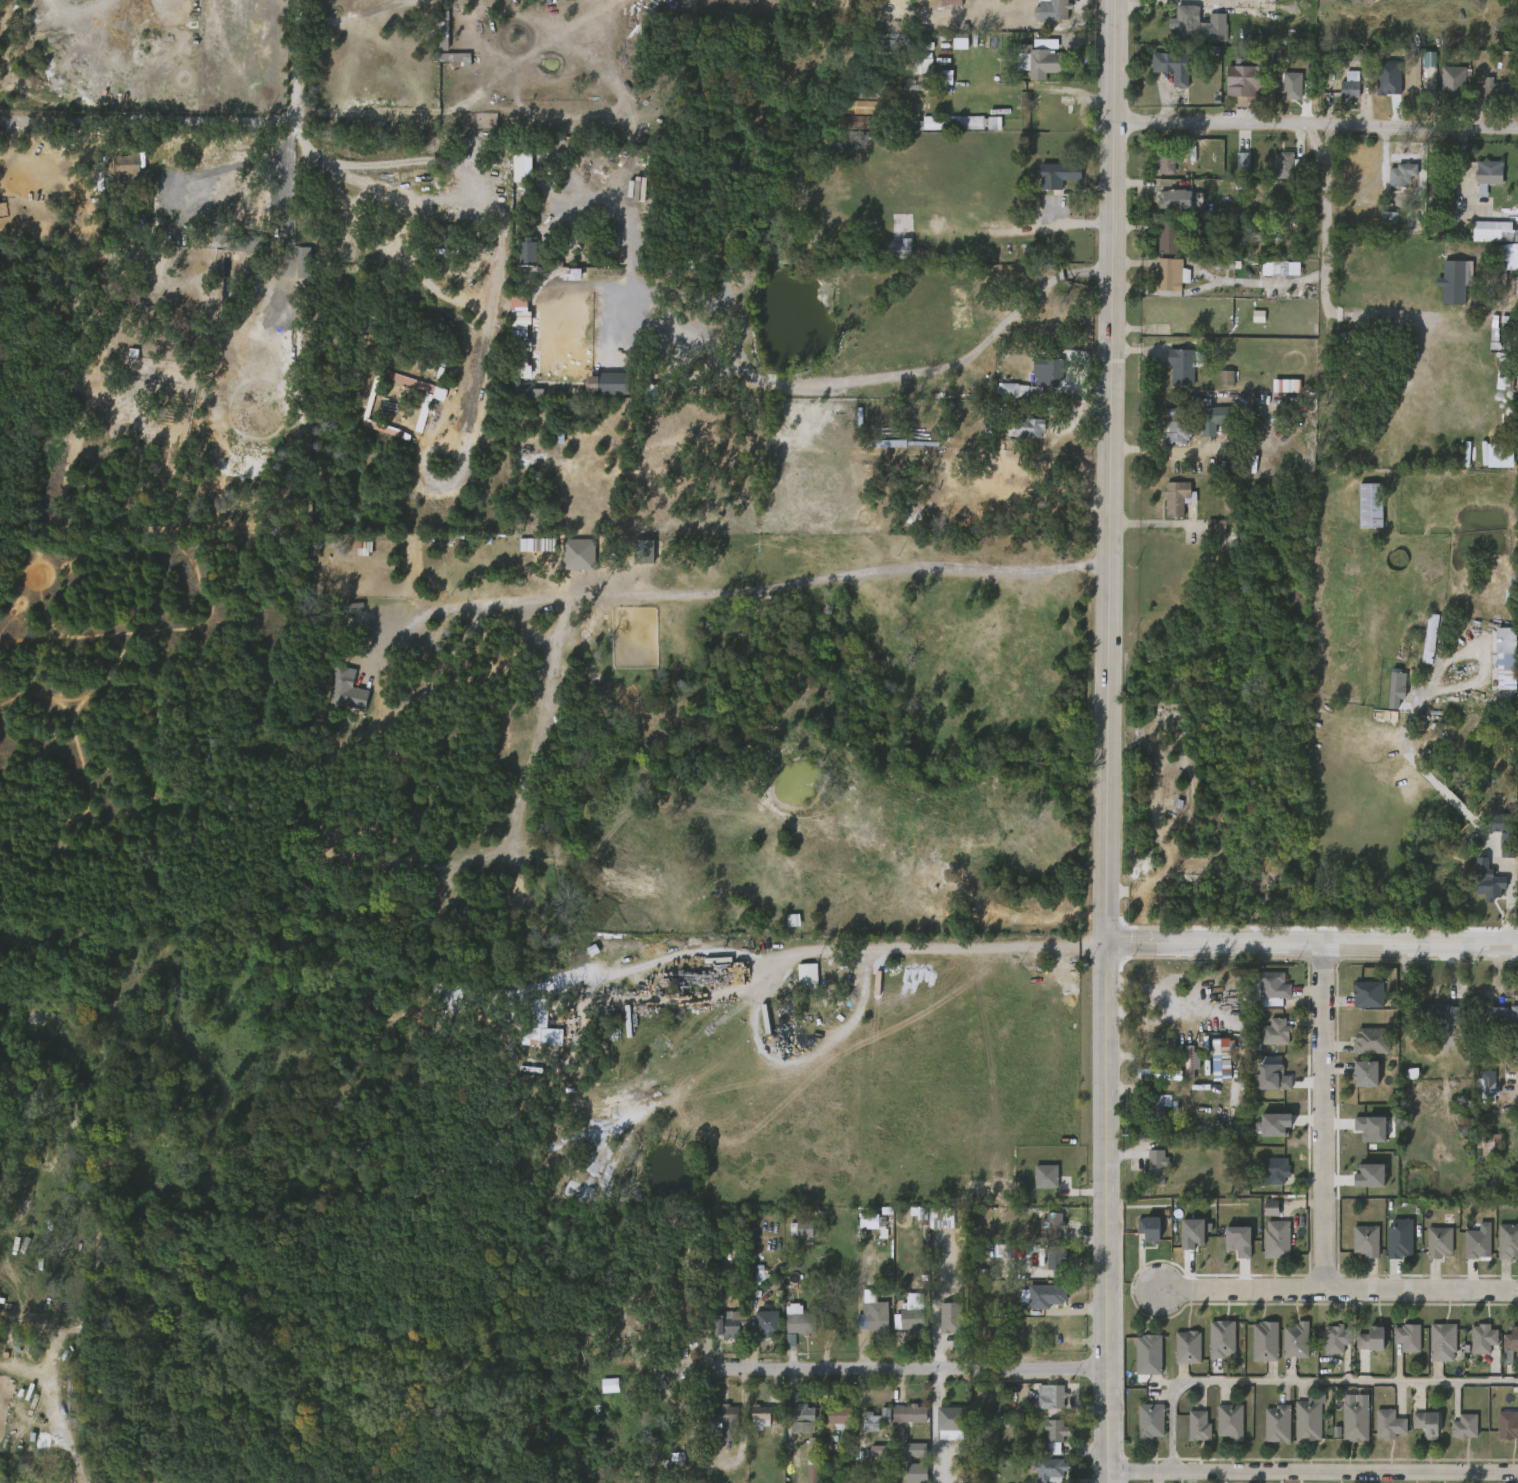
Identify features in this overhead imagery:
building: (949, 2)
road: (1226, 3)
road: (1139, 4)
building: (1054, 10)
road: (134, 11)
road: (352, 15)
building: (1185, 22)
building: (1217, 26)
building: (457, 58)
building: (1358, 59)
building: (1035, 61)
road: (300, 65)
building: (1170, 66)
building: (1418, 69)
building: (912, 74)
building: (1162, 75)
building: (1245, 82)
building: (1350, 84)
building: (1497, 88)
building: (1293, 89)
building: (866, 91)
building: (1340, 92)
building: (1281, 98)
building: (1485, 98)
building: (1517, 99)
building: (861, 107)
building: (856, 122)
building: (955, 122)
road: (93, 128)
building: (846, 131)
building: (948, 131)
road: (1315, 131)
road: (378, 134)
building: (1165, 163)
building: (1285, 163)
building: (128, 165)
building: (1232, 170)
building: (1155, 171)
building: (1063, 172)
building: (117, 173)
building: (1275, 174)
building: (1401, 174)
building: (1486, 177)
building: (1048, 183)
building: (1391, 183)
road: (1460, 186)
road: (373, 195)
building: (1170, 199)
building: (1164, 208)
road: (1326, 221)
building: (1378, 227)
building: (1168, 236)
building: (1483, 240)
building: (1157, 245)
building: (898, 249)
building: (890, 257)
building: (518, 261)
building: (1274, 268)
building: (1170, 274)
building: (1270, 277)
building: (1442, 291)
building: (1485, 298)
building: (1247, 324)
building: (1180, 365)
building: (1049, 371)
building: (1171, 376)
road: (789, 385)
building: (1216, 386)
building: (1025, 388)
building: (1012, 390)
building: (603, 391)
building: (1278, 394)
building: (1206, 421)
building: (1174, 426)
building: (1029, 427)
building: (1022, 436)
building: (1167, 441)
road: (1110, 471)
building: (1179, 498)
building: (1368, 505)
building: (1205, 535)
building: (522, 552)
building: (568, 562)
road: (746, 593)
building: (1429, 637)
building: (1419, 646)
building: (332, 694)
building: (1384, 697)
building: (1508, 836)
building: (1491, 842)
building: (1486, 880)
road: (1511, 887)
building: (1476, 889)
road: (1188, 943)
road: (1394, 944)
road: (759, 974)
building: (1221, 976)
building: (1270, 984)
building: (1264, 993)
building: (1357, 1002)
building: (1440, 1014)
building: (1502, 1015)
building: (1434, 1023)
building: (1273, 1032)
building: (532, 1033)
building: (1369, 1040)
building: (1215, 1059)
building: (1180, 1068)
building: (1362, 1074)
building: (1263, 1085)
building: (1477, 1092)
building: (1155, 1106)
road: (1322, 1116)
building: (1264, 1132)
building: (1360, 1136)
building: (1490, 1143)
building: (1155, 1167)
building: (1273, 1170)
building: (1147, 1172)
building: (1359, 1183)
building: (1035, 1184)
road: (1107, 1212)
building: (1260, 1215)
building: (1146, 1227)
building: (799, 1228)
building: (931, 1228)
building: (1053, 1228)
building: (872, 1229)
building: (791, 1236)
building: (1399, 1237)
building: (1275, 1239)
building: (1364, 1239)
building: (1507, 1239)
building: (1182, 1240)
building: (1438, 1241)
building: (1478, 1243)
building: (1228, 1248)
building: (1355, 1248)
building: (1429, 1249)
building: (1467, 1250)
building: (1053, 1257)
building: (1045, 1267)
road: (1342, 1289)
building: (1044, 1295)
building: (947, 1314)
building: (871, 1316)
building: (796, 1319)
building: (909, 1320)
building: (764, 1321)
building: (728, 1324)
building: (685, 1325)
building: (941, 1325)
building: (788, 1328)
building: (899, 1328)
building: (756, 1331)
building: (1407, 1336)
building: (1334, 1337)
building: (1481, 1337)
building: (1369, 1338)
building: (1511, 1338)
building: (1221, 1339)
building: (1294, 1339)
building: (1263, 1340)
building: (1441, 1340)
building: (1397, 1345)
building: (1186, 1346)
building: (1325, 1346)
building: (1472, 1346)
building: (1361, 1347)
building: (1432, 1350)
building: (1146, 1353)
building: (1177, 1355)
road: (895, 1367)
road: (1306, 1383)
building: (600, 1393)
building: (1050, 1395)
building: (1041, 1404)
building: (907, 1413)
building: (758, 1414)
building: (800, 1417)
building: (1353, 1418)
building: (725, 1419)
building: (833, 1419)
building: (945, 1419)
building: (1306, 1420)
building: (1231, 1421)
building: (899, 1422)
building: (1151, 1422)
building: (1275, 1422)
building: (750, 1423)
building: (1388, 1423)
building: (1425, 1423)
building: (792, 1425)
building: (1197, 1425)
building: (1506, 1425)
building: (1463, 1426)
building: (936, 1427)
building: (1220, 1429)
building: (1416, 1431)
building: (1379, 1432)
building: (1189, 1433)
building: (1498, 1433)
building: (1454, 1434)
building: (1055, 1436)
building: (1044, 1443)
building: (678, 1452)
building: (665, 1466)
building: (1051, 1468)
road: (1313, 1472)
building: (1040, 1474)
building: (802, 1478)

